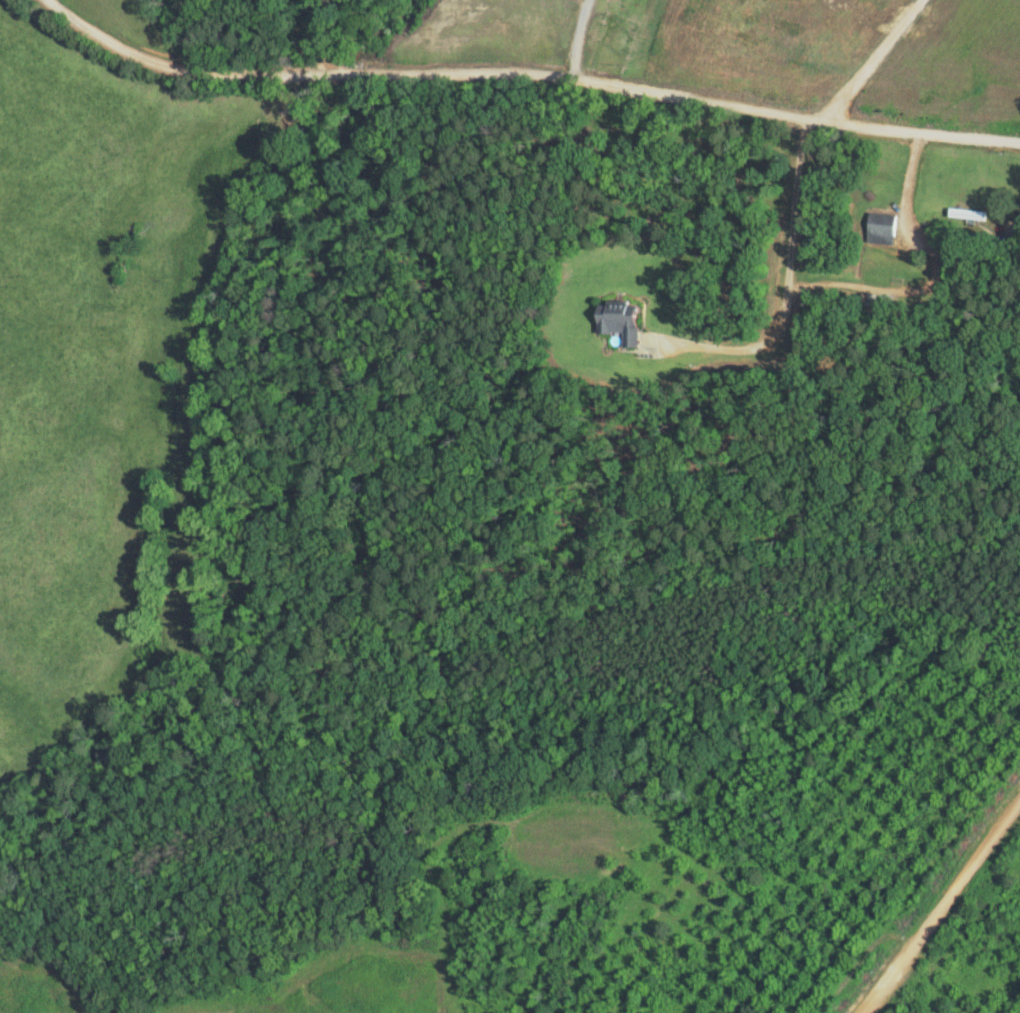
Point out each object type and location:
road: (545, 74)
road: (26, 106)
building: (967, 213)
building: (881, 227)
building: (622, 320)
road: (953, 923)

